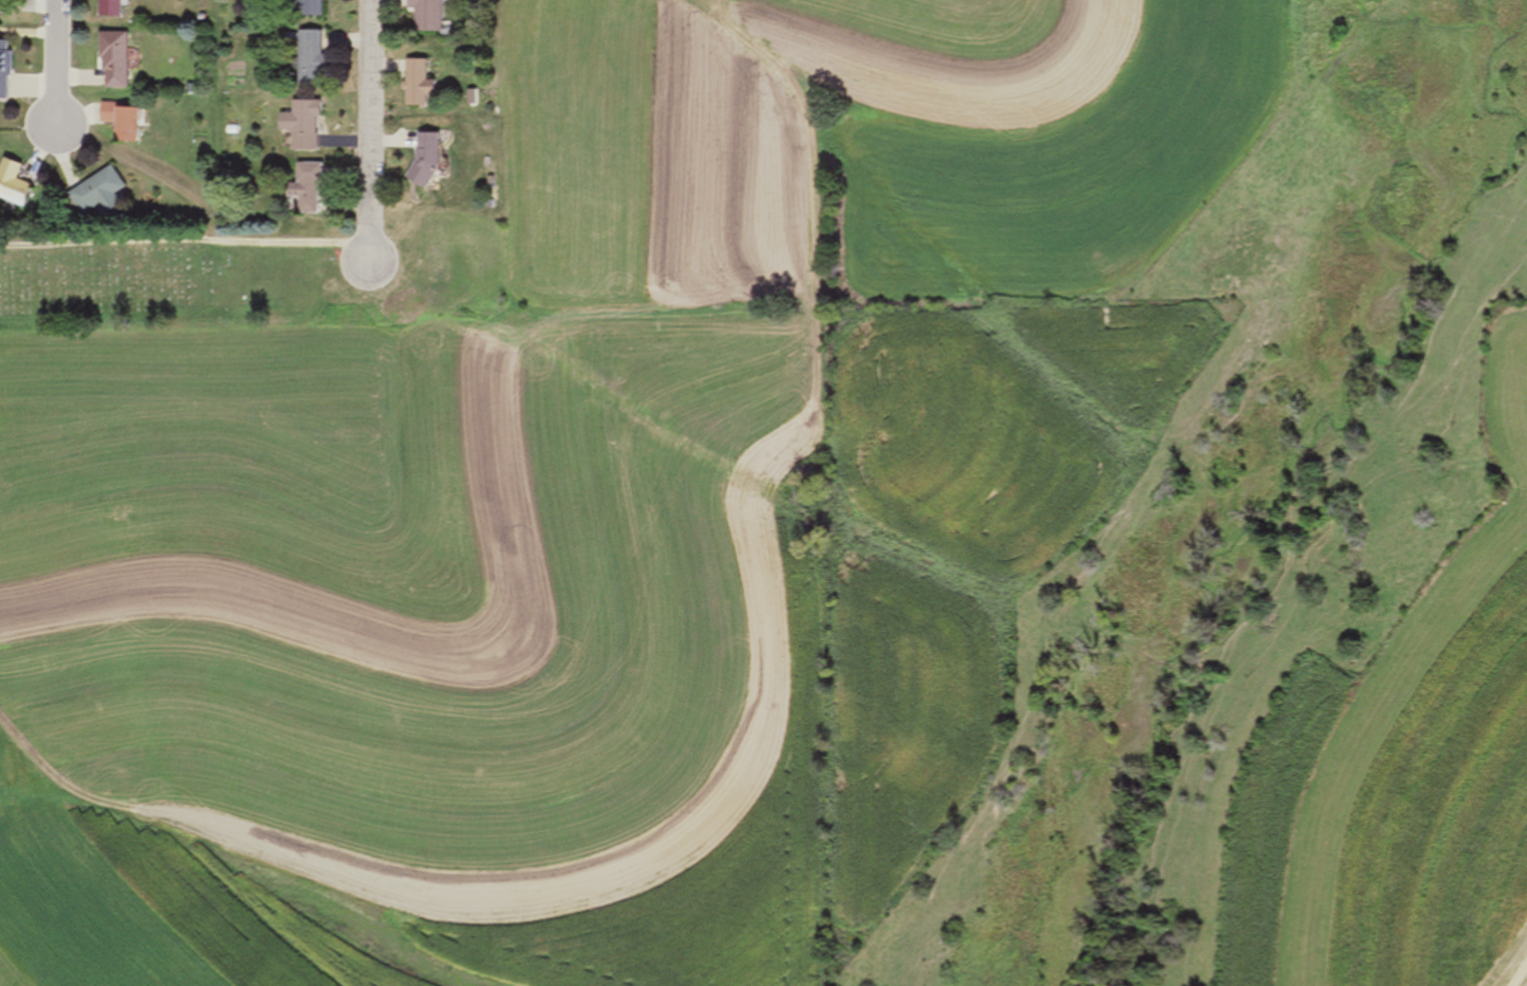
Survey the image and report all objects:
building: (7, 6)
building: (114, 8)
building: (314, 8)
building: (433, 14)
building: (314, 57)
building: (117, 60)
road: (53, 64)
building: (7, 69)
building: (424, 83)
building: (124, 120)
building: (307, 124)
road: (367, 133)
building: (433, 157)
building: (14, 184)
building: (313, 186)
building: (99, 193)
road: (183, 243)
park: (177, 279)

